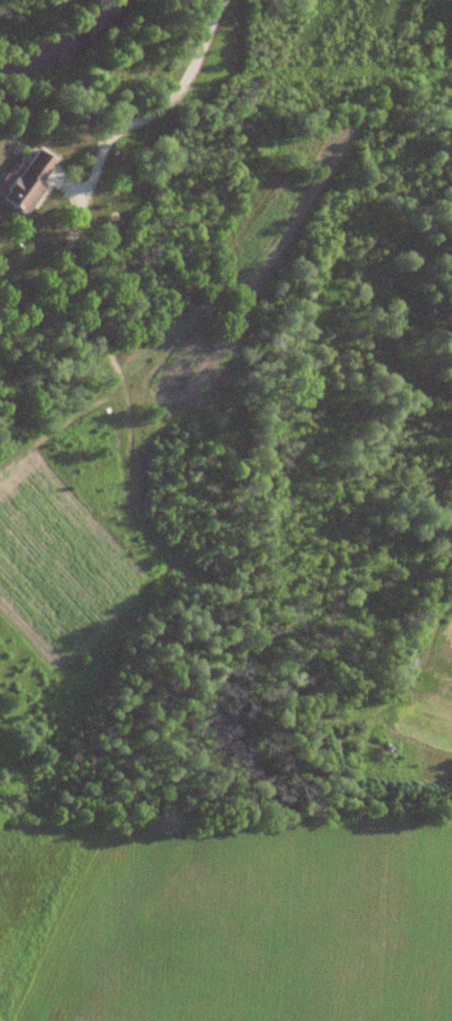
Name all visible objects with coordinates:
river: (62, 42)
road: (168, 109)
building: (29, 182)

